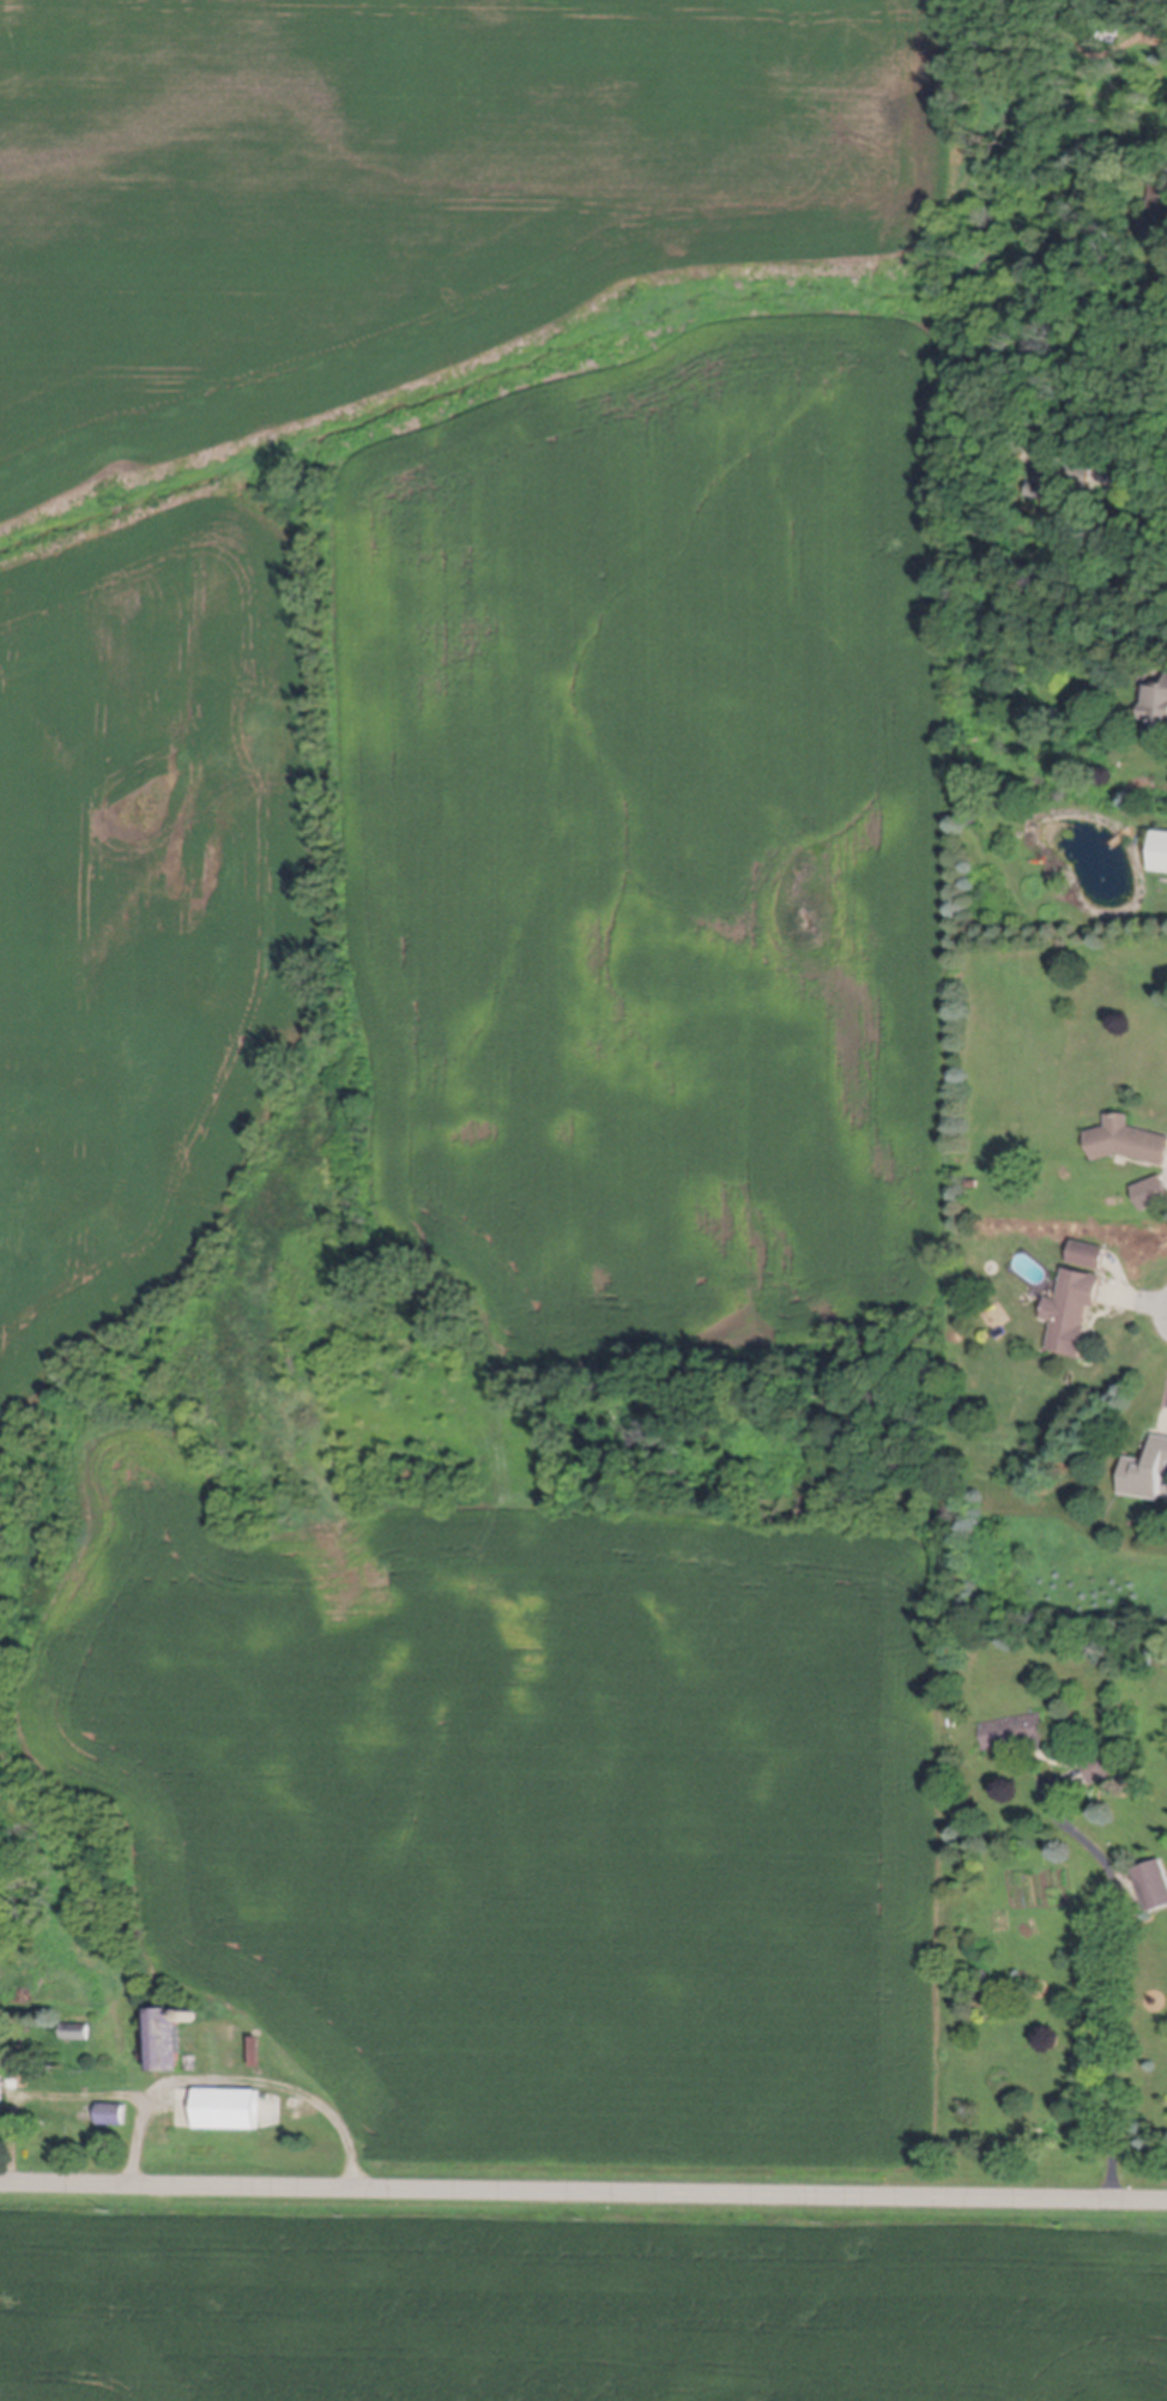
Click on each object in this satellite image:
building: (1108, 31)
building: (1159, 215)
building: (1090, 397)
building: (1062, 476)
building: (1156, 705)
building: (975, 738)
building: (1160, 847)
building: (1126, 1139)
building: (972, 1182)
building: (1150, 1190)
building: (1088, 1253)
building: (1071, 1309)
building: (1145, 1470)
building: (1014, 1732)
building: (1099, 1767)
building: (1153, 1884)
road: (1114, 1980)
building: (192, 2015)
building: (74, 2031)
building: (164, 2040)
building: (256, 2051)
building: (191, 2063)
road: (235, 2080)
building: (1, 2087)
building: (228, 2109)
building: (111, 2113)
road: (582, 2192)

